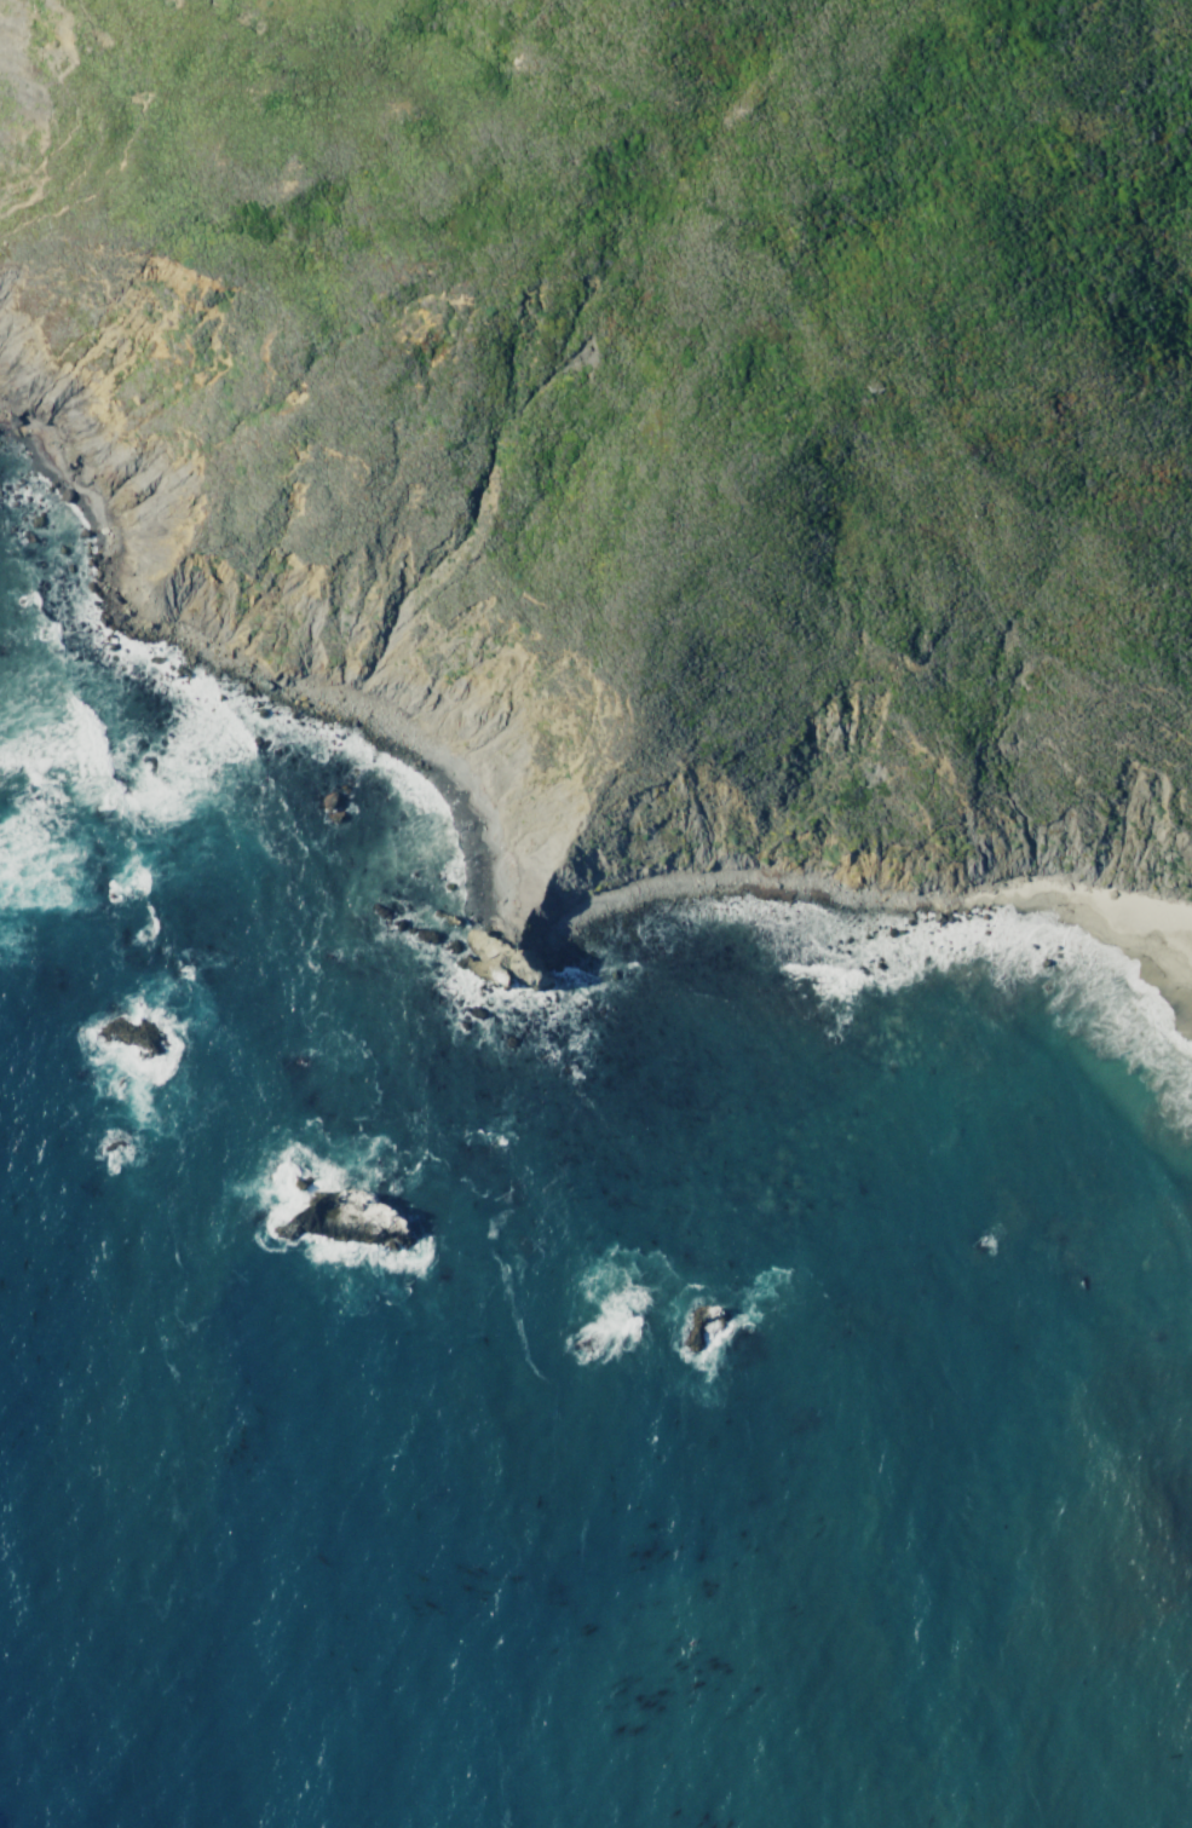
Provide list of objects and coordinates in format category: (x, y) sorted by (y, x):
park: (56, 34)

